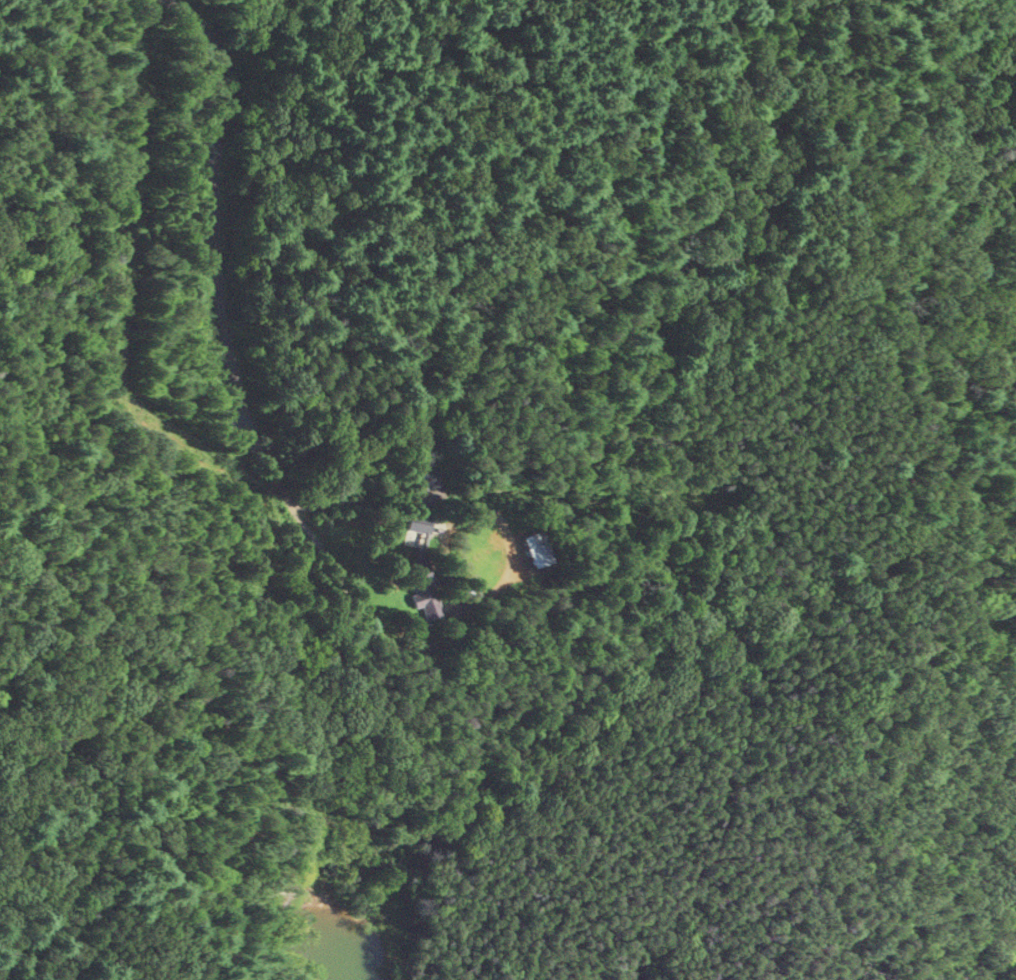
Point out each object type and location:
road: (786, 52)
road: (788, 141)
road: (1006, 353)
road: (869, 368)
road: (273, 475)
building: (415, 478)
building: (400, 532)
building: (415, 588)

